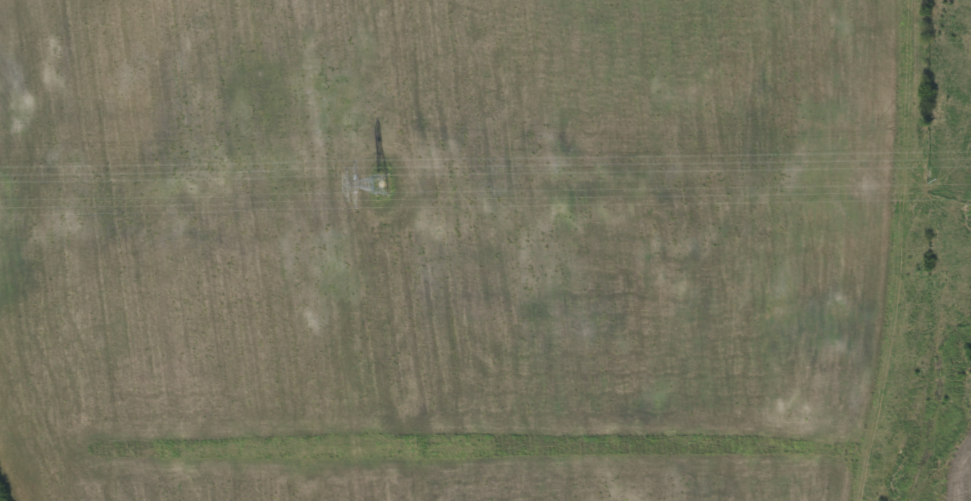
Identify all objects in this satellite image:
power tower: (386, 183)

